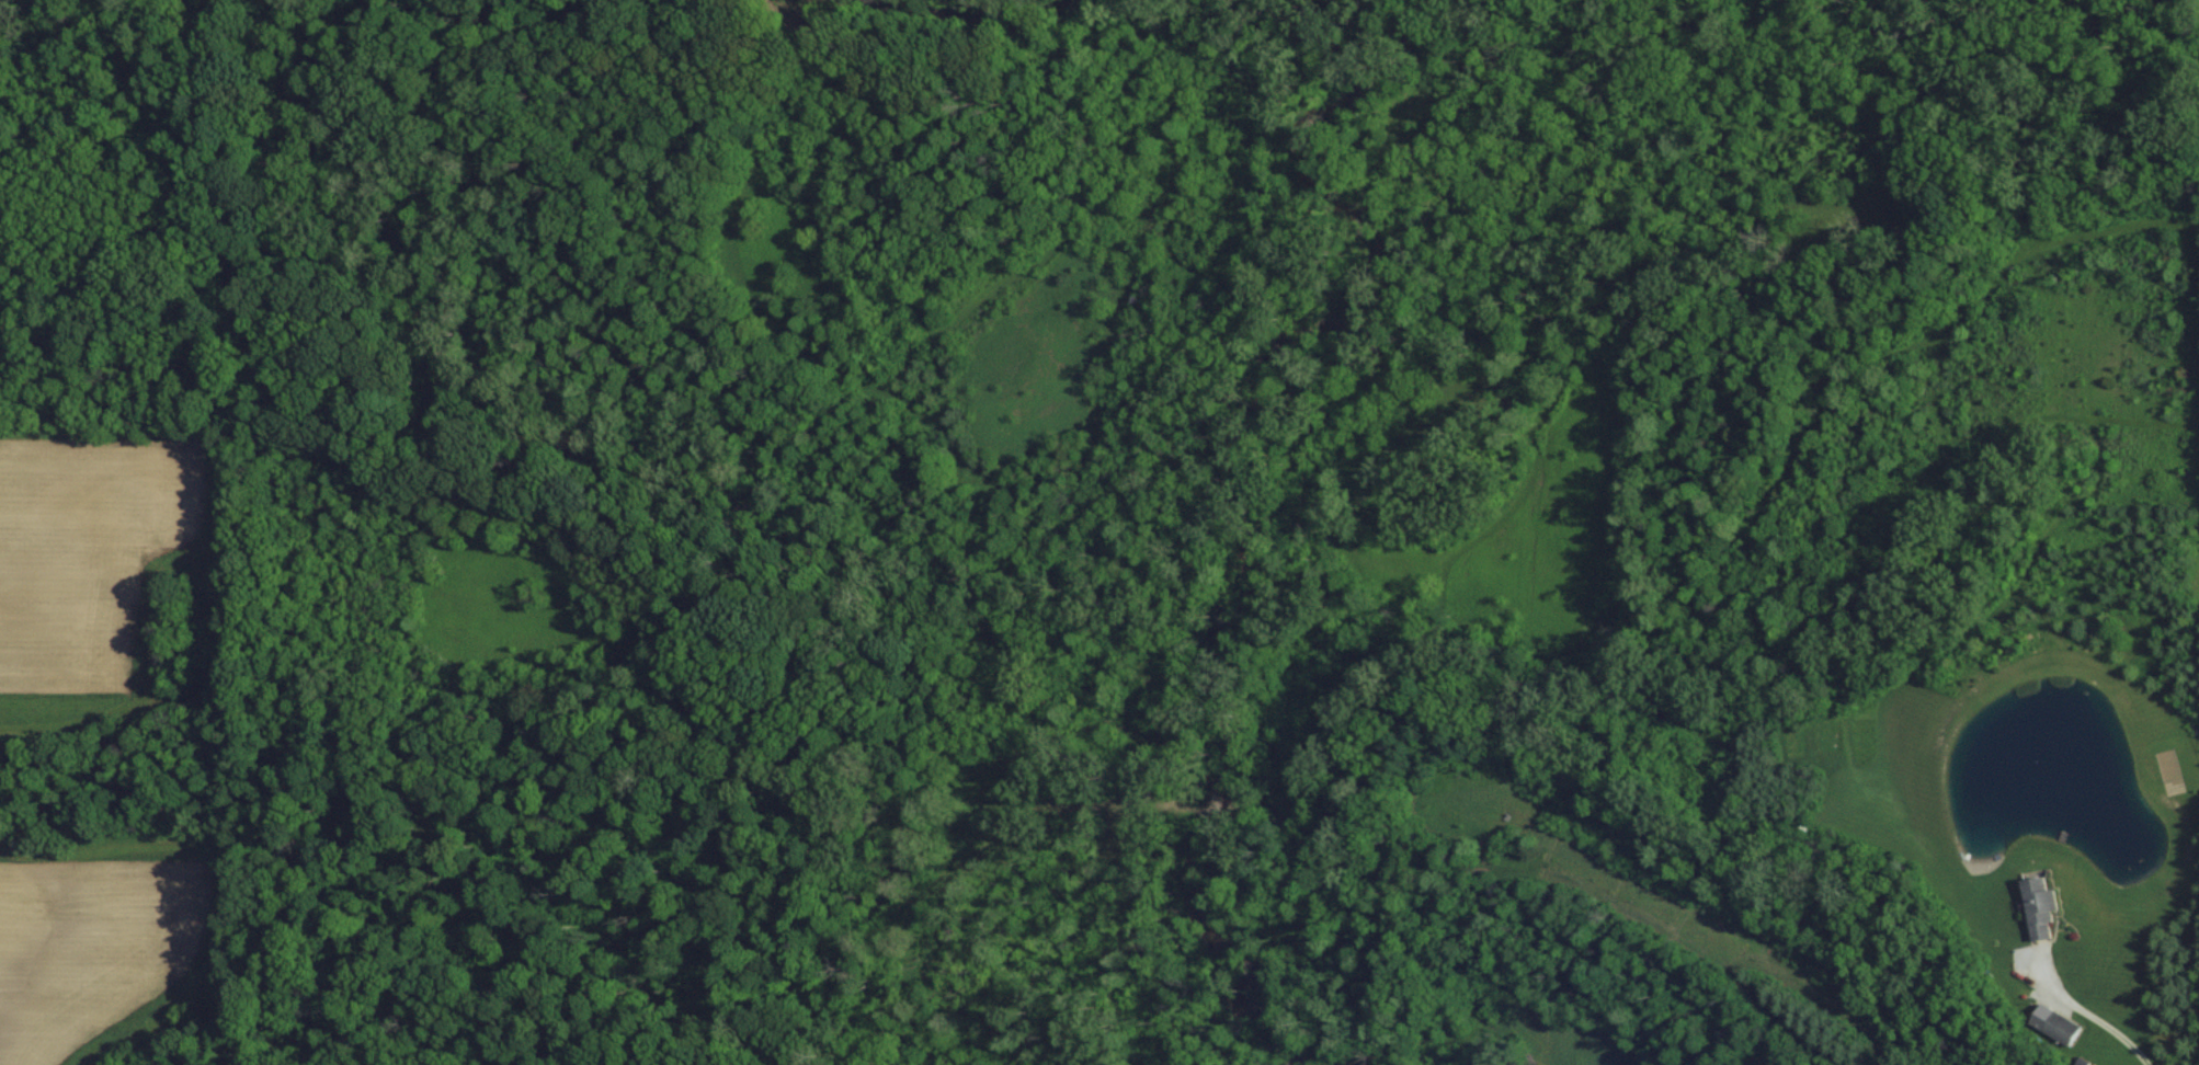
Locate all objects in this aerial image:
building: (2046, 907)
road: (2098, 1020)

